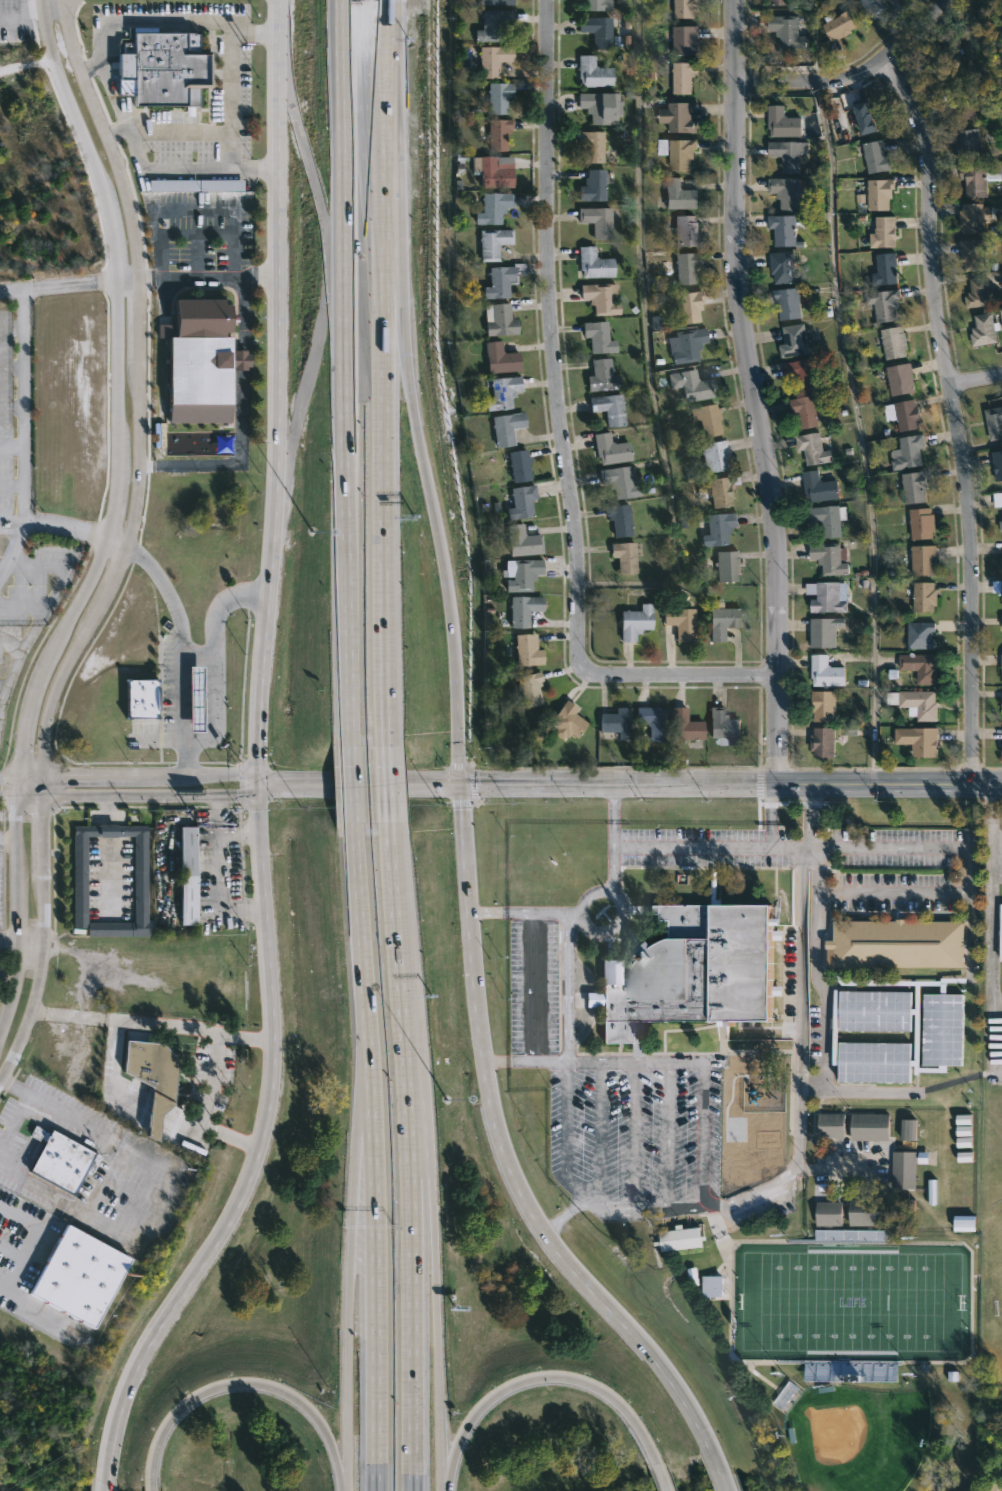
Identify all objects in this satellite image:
road: (280, 1)
building: (499, 2)
building: (781, 2)
building: (598, 4)
building: (875, 6)
road: (21, 7)
building: (686, 8)
road: (31, 11)
road: (11, 18)
building: (840, 24)
building: (495, 25)
building: (597, 30)
building: (788, 30)
building: (686, 40)
building: (493, 59)
building: (936, 65)
road: (92, 66)
building: (169, 68)
building: (594, 73)
road: (108, 74)
building: (684, 76)
road: (854, 77)
building: (500, 97)
road: (230, 102)
building: (958, 105)
building: (602, 106)
building: (679, 117)
building: (784, 123)
road: (114, 130)
building: (498, 134)
building: (592, 144)
building: (966, 144)
building: (678, 152)
building: (793, 154)
building: (878, 157)
building: (498, 171)
building: (976, 177)
road: (394, 178)
building: (593, 185)
building: (196, 186)
building: (788, 192)
building: (882, 193)
building: (680, 195)
building: (494, 208)
road: (193, 210)
building: (973, 217)
building: (597, 221)
building: (785, 229)
building: (686, 231)
building: (884, 233)
building: (495, 242)
building: (972, 253)
road: (116, 263)
building: (594, 263)
building: (686, 267)
building: (784, 267)
building: (887, 270)
road: (208, 277)
road: (78, 281)
building: (500, 282)
road: (10, 290)
building: (976, 292)
building: (600, 298)
building: (791, 303)
building: (885, 304)
building: (687, 307)
road: (242, 313)
building: (501, 320)
building: (985, 327)
road: (644, 330)
building: (599, 337)
building: (796, 340)
building: (895, 343)
building: (686, 346)
building: (502, 358)
road: (242, 359)
building: (198, 362)
road: (382, 371)
road: (345, 372)
building: (806, 374)
building: (601, 376)
building: (902, 379)
road: (976, 380)
building: (689, 387)
building: (503, 392)
road: (755, 392)
road: (137, 403)
building: (609, 408)
building: (806, 411)
building: (904, 415)
road: (954, 416)
building: (706, 420)
building: (995, 422)
building: (506, 428)
road: (565, 430)
road: (859, 432)
road: (20, 434)
road: (10, 444)
building: (816, 448)
building: (610, 450)
building: (909, 452)
building: (715, 456)
road: (235, 463)
road: (422, 465)
building: (522, 465)
building: (998, 465)
building: (619, 482)
road: (10, 483)
building: (916, 487)
building: (818, 488)
building: (723, 490)
building: (997, 500)
building: (524, 501)
building: (619, 519)
building: (829, 519)
road: (10, 522)
building: (923, 524)
road: (64, 525)
building: (1001, 525)
building: (718, 529)
building: (524, 542)
building: (624, 557)
building: (831, 558)
building: (925, 561)
building: (1000, 565)
road: (2, 566)
building: (727, 567)
building: (523, 574)
building: (997, 587)
building: (829, 597)
building: (925, 597)
building: (525, 610)
building: (722, 620)
building: (635, 622)
building: (681, 624)
road: (181, 628)
building: (825, 633)
building: (919, 635)
building: (530, 650)
road: (195, 651)
road: (209, 656)
building: (921, 668)
building: (1000, 669)
building: (827, 672)
building: (528, 689)
building: (917, 704)
building: (825, 706)
building: (567, 721)
building: (653, 722)
building: (617, 723)
building: (685, 726)
building: (727, 726)
road: (457, 733)
building: (920, 741)
building: (824, 742)
road: (258, 761)
road: (16, 773)
road: (138, 775)
road: (8, 777)
road: (350, 783)
road: (385, 783)
traffic signals: (258, 784)
road: (358, 784)
traffic signals: (459, 785)
road: (730, 785)
road: (611, 794)
road: (151, 796)
road: (769, 797)
road: (7, 799)
road: (28, 799)
road: (215, 816)
road: (770, 828)
road: (7, 838)
road: (611, 847)
road: (707, 847)
road: (884, 848)
road: (809, 849)
road: (107, 851)
road: (217, 872)
road: (816, 875)
building: (187, 877)
building: (80, 878)
road: (917, 893)
road: (587, 894)
road: (485, 911)
road: (573, 912)
road: (535, 913)
road: (991, 917)
road: (358, 918)
road: (619, 920)
road: (580, 924)
building: (999, 932)
road: (6, 943)
building: (895, 944)
road: (43, 945)
road: (28, 949)
road: (398, 950)
building: (698, 971)
road: (533, 987)
road: (567, 987)
road: (825, 1014)
road: (76, 1017)
road: (200, 1028)
road: (113, 1056)
road: (537, 1061)
road: (617, 1061)
road: (687, 1061)
road: (495, 1062)
building: (155, 1077)
road: (867, 1090)
road: (798, 1091)
road: (18, 1106)
road: (202, 1110)
road: (356, 1119)
building: (834, 1124)
road: (420, 1125)
building: (872, 1126)
building: (909, 1129)
road: (564, 1134)
road: (597, 1134)
road: (668, 1134)
road: (704, 1134)
road: (634, 1135)
building: (61, 1160)
road: (505, 1160)
building: (906, 1170)
road: (573, 1207)
building: (910, 1209)
building: (869, 1212)
building: (830, 1213)
road: (556, 1222)
building: (962, 1222)
building: (683, 1239)
road: (32, 1241)
road: (376, 1252)
building: (79, 1275)
road: (412, 1283)
park: (852, 1302)
road: (435, 1331)
road: (346, 1358)
road: (563, 1377)
road: (223, 1386)
park: (857, 1438)
road: (449, 1465)
road: (337, 1469)
road: (659, 1477)
road: (719, 1481)
road: (108, 1488)
road: (442, 1490)

